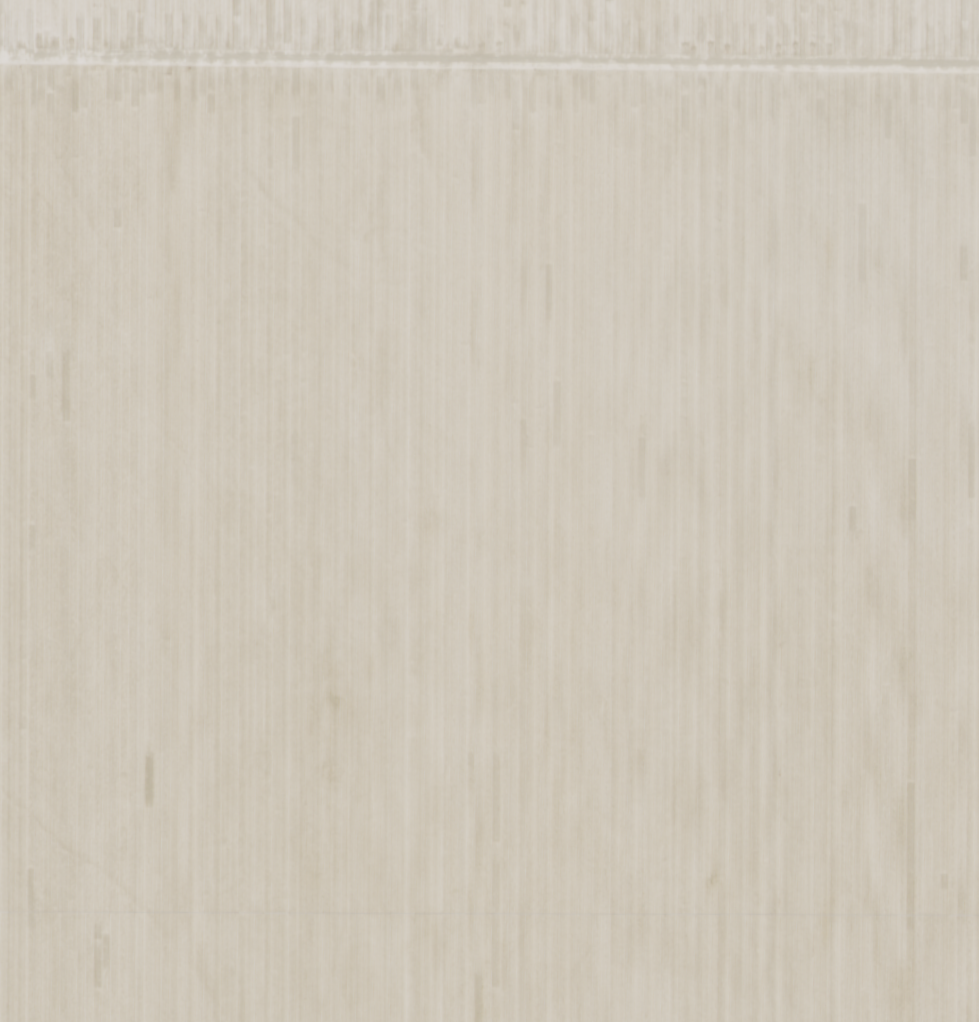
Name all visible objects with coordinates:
road: (489, 61)

